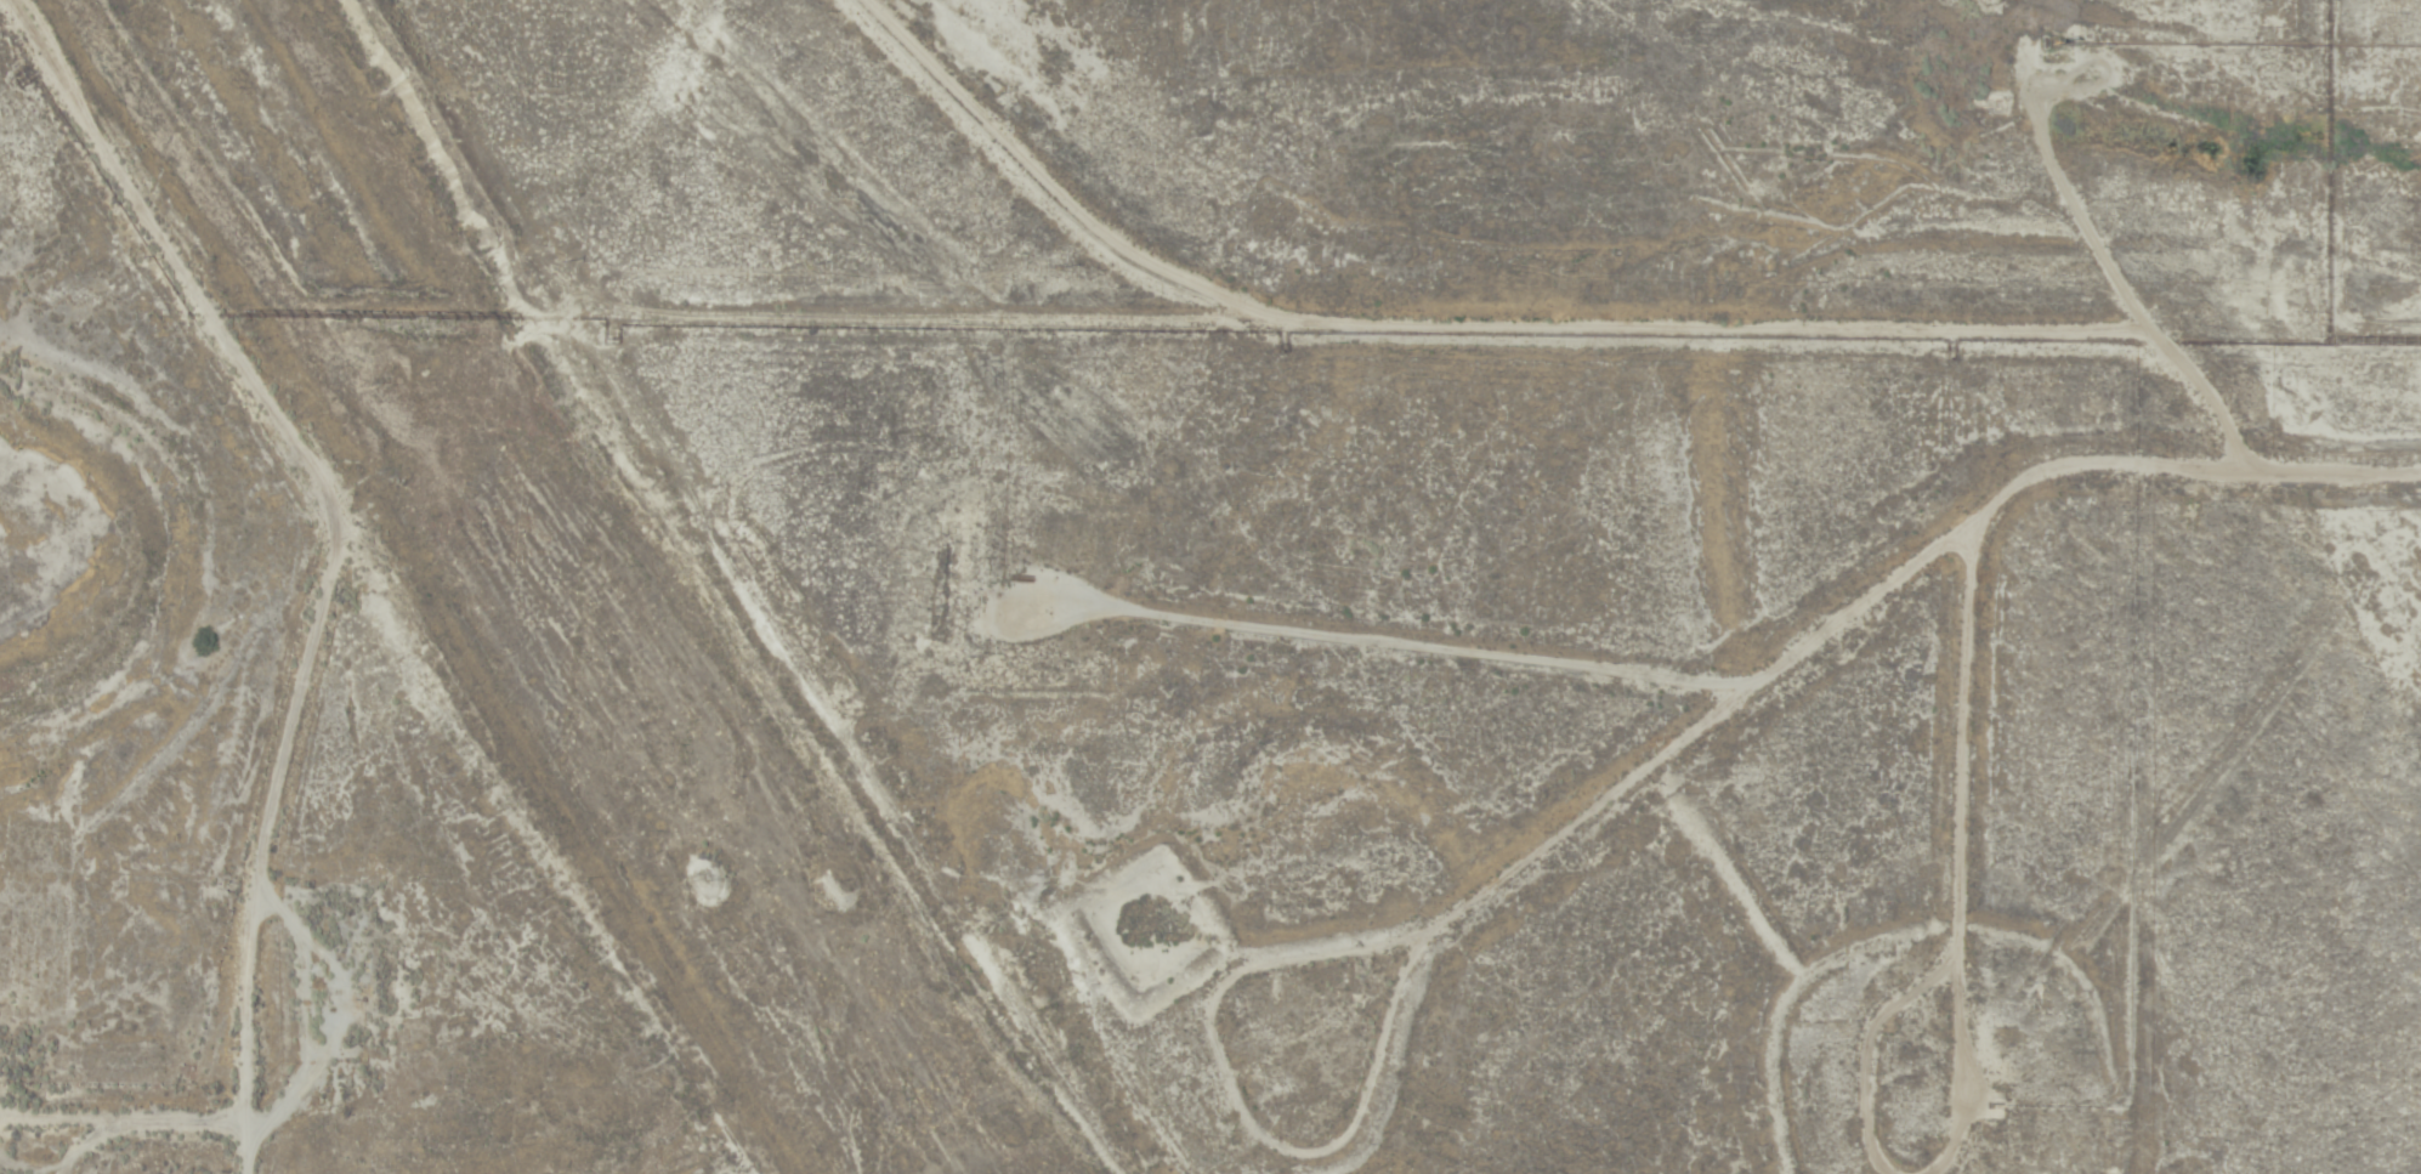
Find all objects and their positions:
road: (1594, 345)
road: (1900, 569)
road: (285, 579)
road: (773, 584)
road: (1997, 769)
road: (2222, 788)
road: (1971, 902)
road: (1441, 999)
road: (1707, 1028)
road: (1875, 1036)

